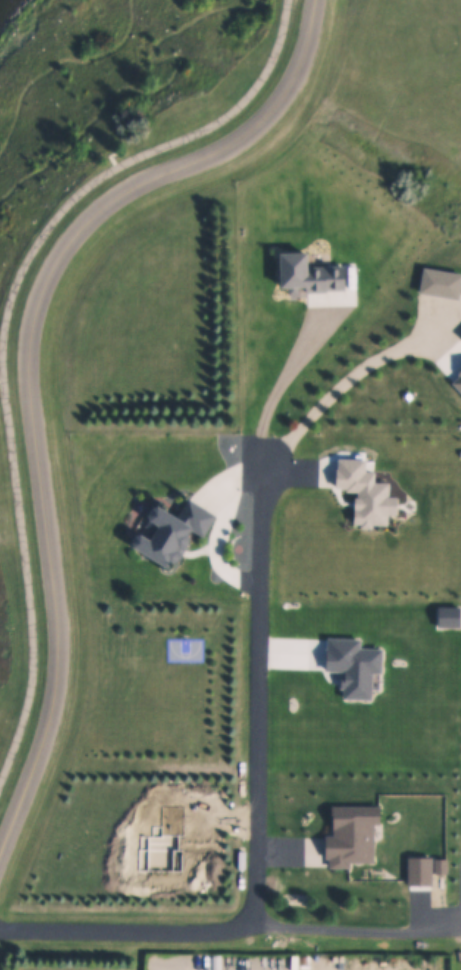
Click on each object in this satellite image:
road: (112, 158)
road: (3, 329)
road: (30, 370)
road: (1, 380)
road: (344, 381)
road: (276, 388)
building: (179, 533)
road: (253, 817)
road: (350, 929)

